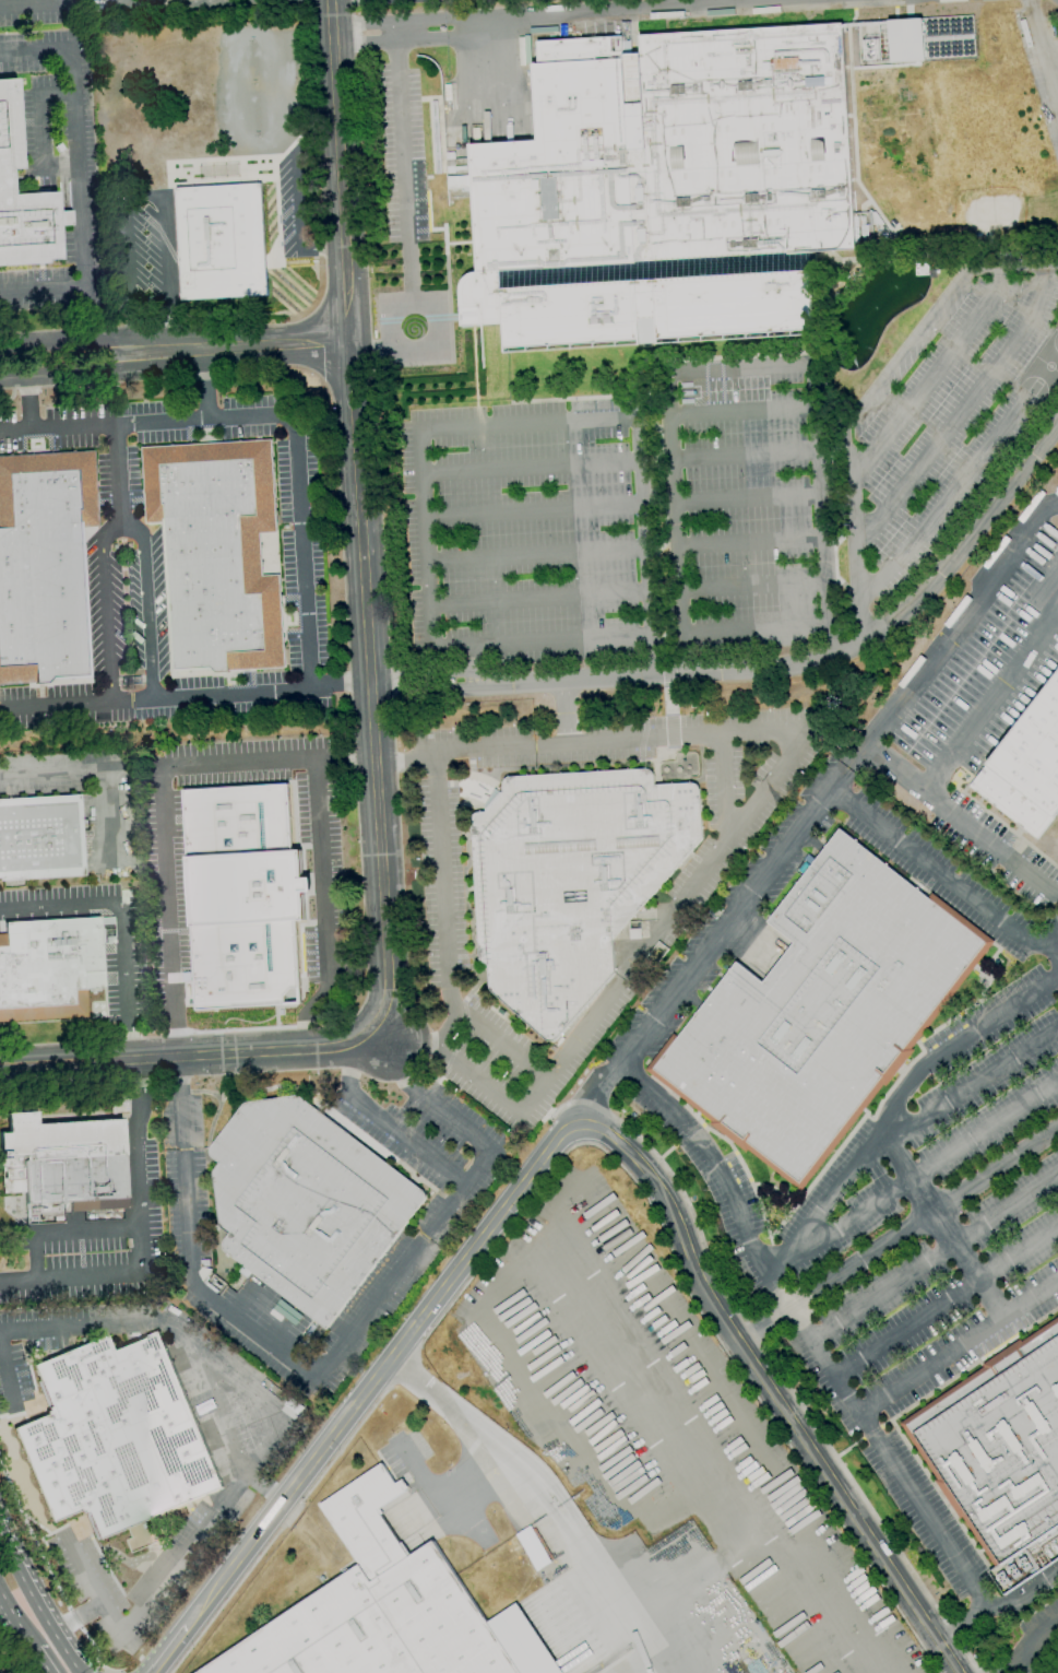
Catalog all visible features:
road: (114, 3)
road: (186, 3)
road: (33, 5)
road: (657, 12)
road: (397, 22)
road: (393, 33)
building: (1025, 34)
building: (904, 40)
road: (401, 42)
road: (1042, 57)
road: (41, 133)
road: (81, 172)
road: (402, 173)
building: (665, 192)
road: (140, 196)
building: (23, 198)
road: (295, 198)
building: (221, 241)
building: (922, 269)
road: (430, 329)
road: (68, 340)
road: (240, 344)
road: (738, 369)
road: (930, 373)
road: (70, 375)
road: (204, 382)
road: (13, 393)
road: (866, 396)
road: (27, 403)
road: (962, 404)
road: (277, 416)
road: (613, 419)
road: (741, 458)
road: (530, 468)
road: (118, 471)
road: (745, 499)
road: (943, 504)
road: (533, 515)
road: (358, 519)
road: (818, 530)
road: (423, 538)
road: (747, 542)
road: (675, 545)
road: (645, 546)
building: (216, 552)
road: (535, 557)
building: (43, 564)
road: (750, 590)
road: (537, 600)
road: (143, 603)
road: (107, 606)
road: (754, 629)
road: (949, 635)
road: (540, 641)
road: (834, 653)
road: (473, 661)
road: (441, 673)
road: (372, 683)
road: (441, 687)
road: (183, 696)
road: (991, 699)
road: (562, 712)
road: (783, 755)
road: (342, 756)
road: (237, 759)
building: (1026, 767)
road: (90, 777)
road: (837, 779)
road: (955, 815)
building: (40, 838)
road: (703, 864)
road: (944, 879)
building: (570, 881)
building: (241, 896)
road: (441, 899)
road: (119, 926)
road: (1050, 944)
road: (700, 954)
building: (49, 967)
building: (821, 1011)
road: (502, 1044)
road: (187, 1056)
road: (974, 1085)
road: (894, 1104)
road: (387, 1123)
road: (570, 1148)
building: (62, 1159)
road: (923, 1168)
road: (456, 1198)
building: (305, 1203)
road: (941, 1220)
road: (63, 1232)
road: (142, 1233)
road: (895, 1234)
road: (186, 1250)
road: (934, 1257)
road: (947, 1301)
road: (168, 1323)
road: (959, 1346)
road: (820, 1353)
road: (772, 1364)
road: (380, 1371)
road: (5, 1372)
road: (770, 1391)
building: (117, 1435)
building: (998, 1445)
parking lot: (250, 1450)
road: (540, 1496)
road: (169, 1567)
road: (1023, 1592)
building: (380, 1602)
road: (36, 1603)
road: (16, 1619)
road: (1027, 1643)
road: (167, 1650)
road: (43, 1661)
road: (1018, 1666)
road: (103, 1669)

